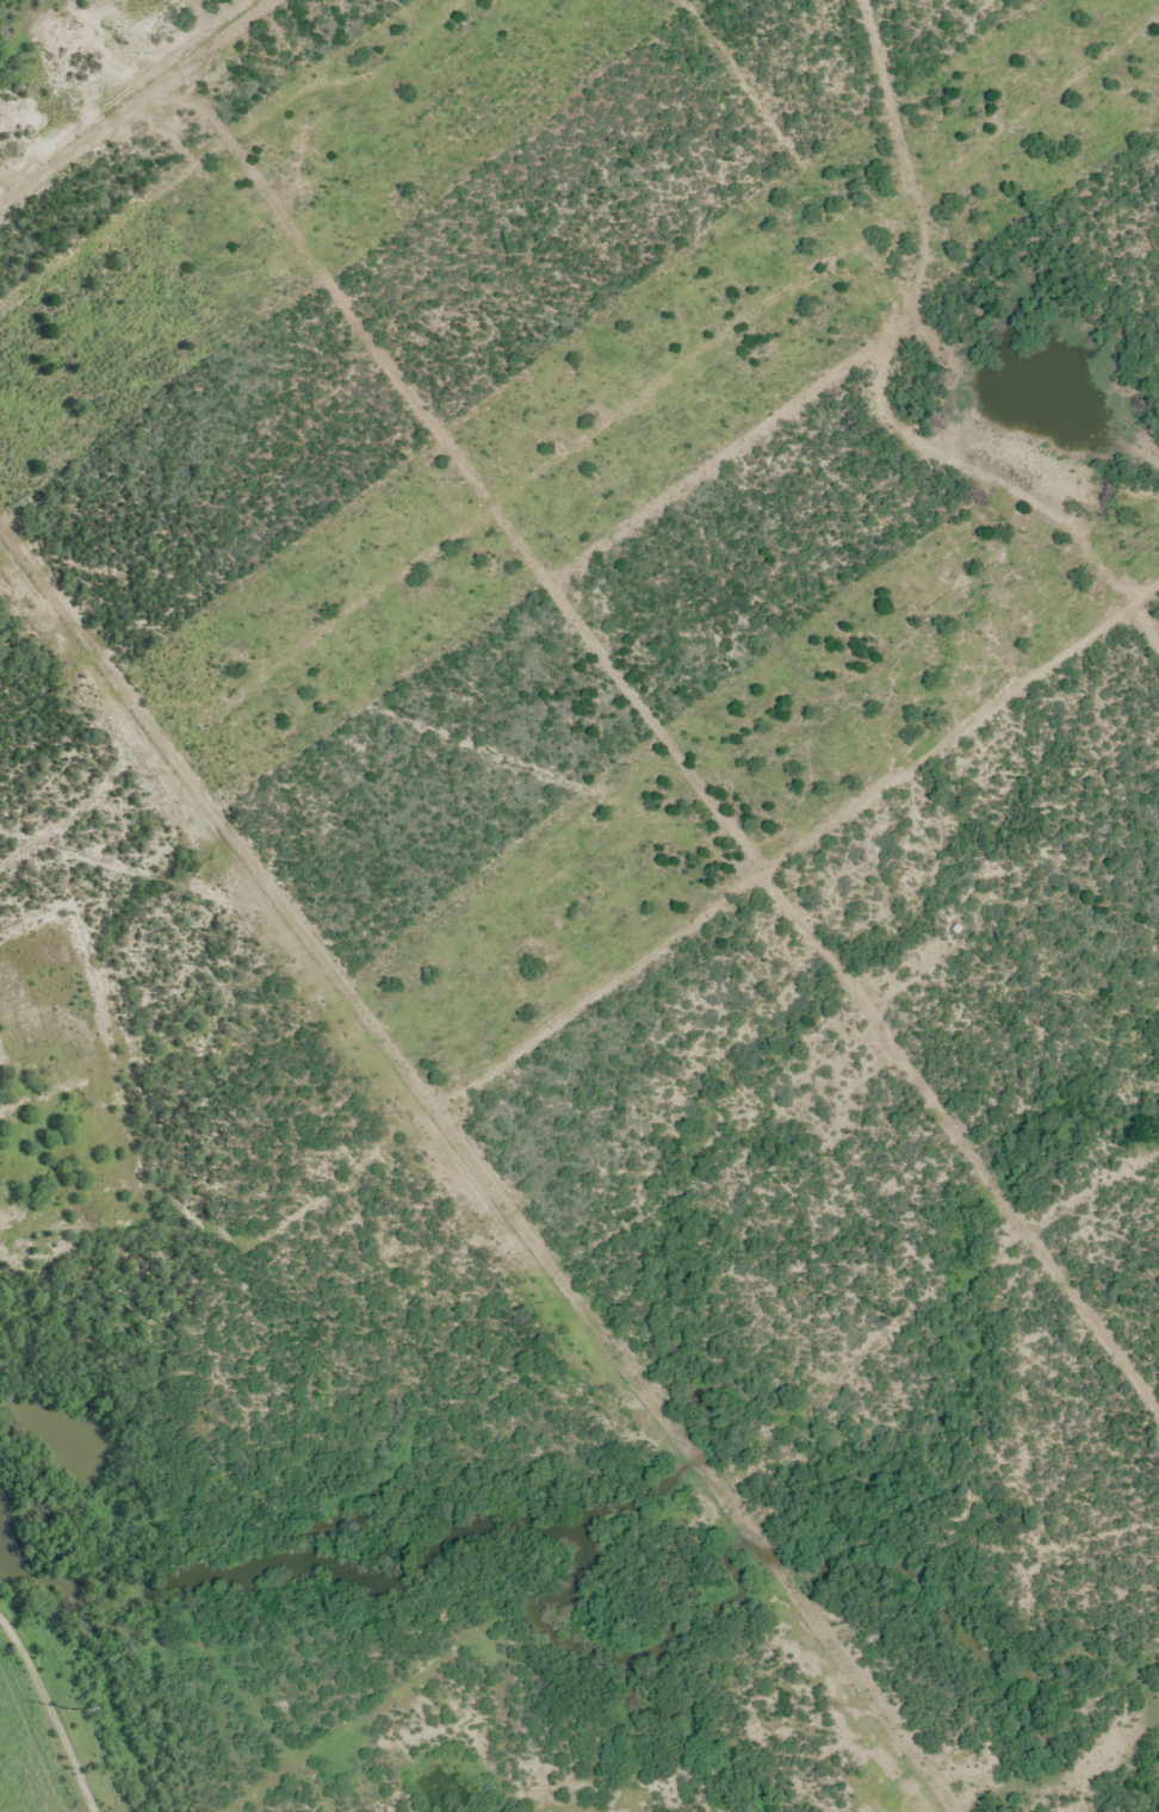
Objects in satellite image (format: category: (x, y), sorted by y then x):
power tower: (66, 1709)

